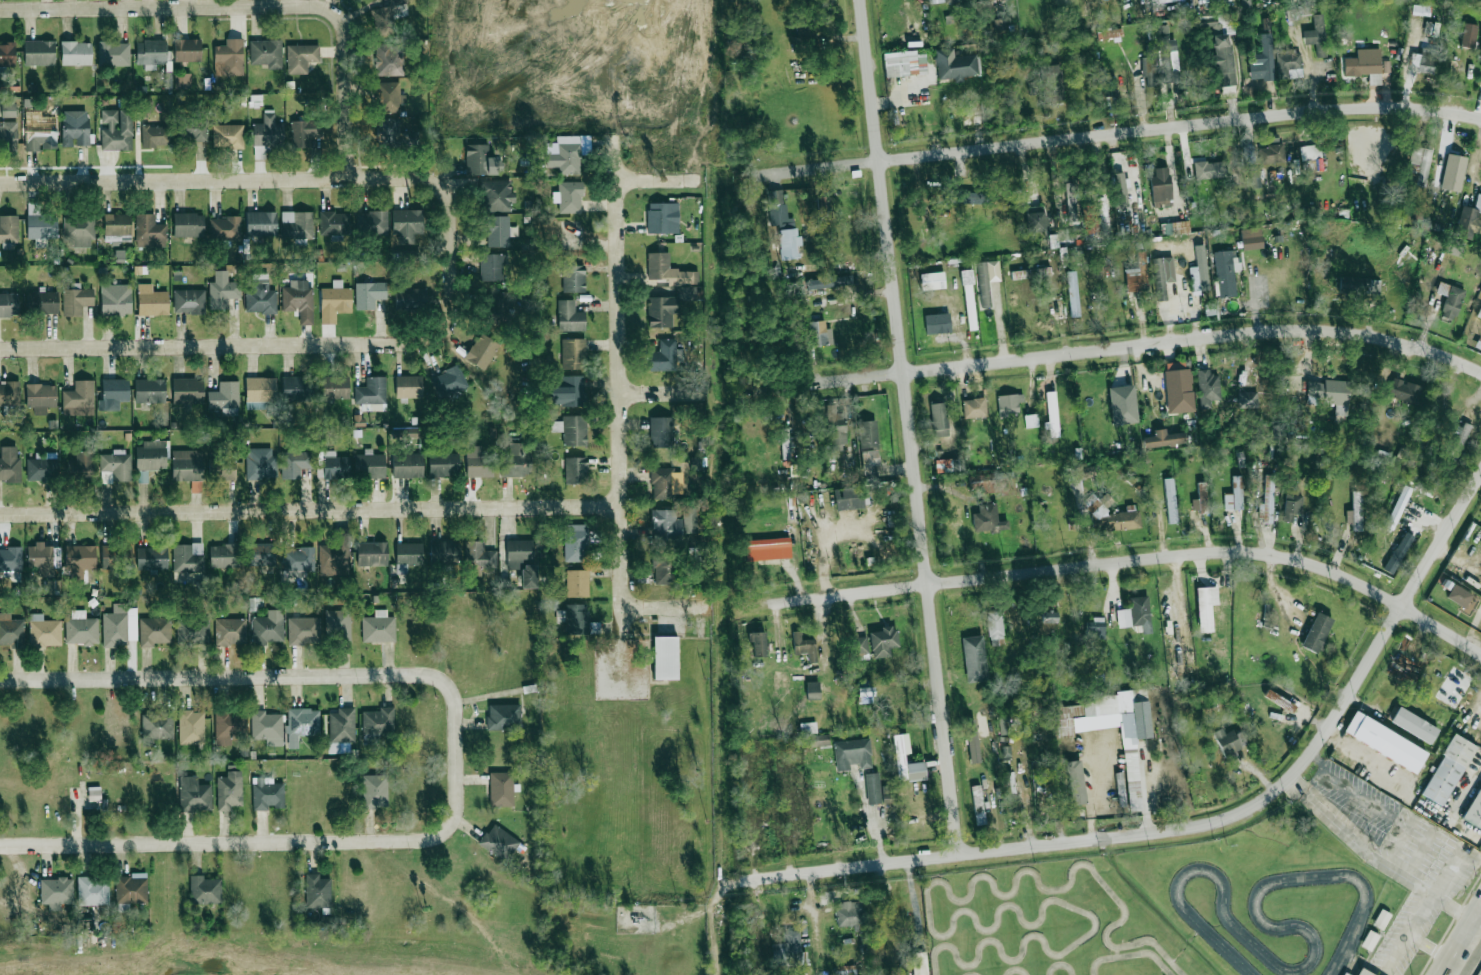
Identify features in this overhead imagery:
building: (1005, 0)
building: (1154, 0)
building: (1309, 0)
building: (400, 2)
building: (935, 2)
road: (251, 9)
building: (983, 9)
building: (1420, 10)
building: (904, 19)
building: (384, 21)
building: (1209, 25)
building: (1161, 30)
building: (1109, 33)
building: (1316, 35)
building: (1469, 36)
building: (187, 50)
building: (39, 53)
building: (76, 53)
building: (113, 53)
building: (151, 53)
building: (266, 53)
building: (1480, 53)
building: (7, 54)
building: (229, 58)
building: (301, 58)
building: (1168, 59)
building: (1480, 59)
building: (389, 60)
building: (1222, 61)
building: (1425, 61)
building: (1262, 62)
building: (1287, 64)
building: (1151, 65)
building: (901, 66)
building: (1366, 66)
building: (956, 68)
building: (186, 78)
building: (168, 80)
building: (1051, 83)
building: (1108, 87)
building: (389, 97)
building: (75, 128)
building: (195, 129)
building: (116, 130)
building: (388, 130)
building: (267, 131)
building: (8, 132)
building: (303, 132)
road: (1116, 133)
building: (154, 136)
building: (228, 136)
building: (40, 137)
building: (1310, 152)
building: (568, 153)
building: (1250, 156)
building: (1272, 156)
building: (477, 158)
building: (1418, 166)
building: (1210, 171)
building: (1254, 175)
road: (290, 177)
road: (659, 179)
building: (1449, 179)
building: (1120, 190)
building: (1160, 190)
building: (496, 196)
building: (570, 197)
building: (970, 197)
building: (1071, 202)
building: (821, 205)
building: (776, 207)
building: (1103, 216)
building: (658, 218)
building: (1090, 218)
building: (1467, 219)
building: (334, 223)
building: (371, 223)
building: (188, 224)
building: (261, 224)
building: (1035, 224)
building: (117, 225)
building: (297, 225)
building: (407, 225)
building: (225, 228)
building: (9, 229)
building: (747, 230)
building: (78, 231)
building: (149, 231)
building: (499, 231)
building: (1057, 238)
building: (1251, 239)
building: (790, 243)
building: (492, 267)
building: (666, 271)
building: (1199, 272)
building: (1030, 273)
building: (1226, 273)
building: (1162, 276)
building: (573, 278)
building: (1141, 278)
building: (930, 281)
building: (983, 284)
building: (813, 285)
building: (1361, 287)
building: (222, 290)
building: (372, 290)
building: (685, 293)
building: (1073, 293)
building: (411, 299)
building: (1450, 299)
building: (116, 300)
building: (299, 300)
building: (76, 301)
building: (152, 301)
building: (189, 301)
building: (260, 301)
building: (43, 302)
building: (335, 302)
building: (9, 305)
building: (809, 305)
building: (497, 306)
building: (969, 307)
building: (1209, 309)
building: (659, 312)
building: (1478, 314)
building: (570, 317)
building: (936, 324)
building: (835, 327)
building: (819, 334)
road: (1123, 345)
road: (228, 347)
building: (482, 351)
building: (573, 353)
building: (664, 357)
building: (1181, 379)
building: (450, 381)
building: (335, 387)
building: (409, 387)
building: (1208, 388)
building: (298, 389)
building: (150, 390)
road: (662, 390)
building: (187, 391)
building: (259, 391)
building: (371, 391)
building: (568, 391)
building: (1404, 391)
building: (1331, 393)
building: (9, 394)
building: (113, 394)
road: (621, 396)
building: (41, 397)
building: (225, 398)
building: (79, 399)
building: (1248, 400)
building: (1127, 405)
building: (974, 408)
building: (1010, 409)
building: (1052, 415)
building: (938, 417)
building: (1031, 421)
road: (907, 428)
building: (572, 429)
building: (835, 430)
building: (410, 432)
building: (661, 433)
building: (868, 434)
building: (1163, 439)
building: (1459, 441)
building: (784, 443)
building: (151, 456)
building: (1401, 456)
building: (1382, 457)
building: (479, 461)
building: (516, 461)
building: (849, 461)
building: (870, 462)
building: (261, 463)
building: (9, 464)
building: (294, 464)
building: (443, 464)
building: (117, 465)
building: (186, 465)
building: (370, 465)
building: (407, 465)
building: (945, 465)
building: (81, 467)
building: (42, 468)
building: (221, 468)
building: (575, 471)
building: (661, 483)
building: (992, 483)
building: (1235, 495)
building: (848, 498)
building: (1200, 498)
building: (1269, 499)
building: (1170, 500)
building: (1292, 503)
building: (1398, 507)
road: (311, 510)
building: (1356, 511)
building: (986, 518)
building: (1116, 522)
building: (666, 526)
road: (823, 539)
building: (576, 543)
building: (768, 544)
building: (1402, 547)
building: (443, 551)
building: (372, 553)
building: (409, 553)
building: (262, 554)
building: (116, 556)
building: (224, 556)
building: (188, 557)
building: (334, 557)
building: (41, 558)
building: (151, 558)
building: (478, 558)
building: (10, 559)
building: (298, 559)
building: (79, 560)
road: (1136, 560)
building: (522, 561)
building: (664, 568)
building: (577, 583)
building: (1461, 597)
road: (666, 607)
building: (1204, 610)
building: (1139, 611)
building: (1168, 614)
building: (575, 618)
building: (1050, 619)
building: (120, 625)
building: (338, 626)
building: (995, 626)
building: (378, 627)
building: (268, 628)
building: (1095, 628)
building: (81, 629)
building: (303, 630)
building: (11, 631)
building: (44, 631)
building: (154, 631)
building: (231, 631)
building: (193, 633)
building: (1315, 633)
building: (882, 642)
building: (758, 643)
building: (804, 647)
building: (859, 647)
building: (666, 657)
building: (973, 658)
road: (302, 675)
building: (812, 690)
building: (866, 694)
building: (1279, 700)
building: (503, 717)
building: (303, 722)
building: (1003, 724)
building: (266, 725)
building: (342, 725)
building: (377, 725)
building: (1414, 725)
building: (156, 726)
building: (191, 727)
building: (228, 727)
building: (808, 727)
building: (117, 728)
building: (1111, 729)
building: (818, 740)
building: (972, 741)
building: (1385, 742)
building: (1227, 743)
building: (1006, 751)
building: (853, 755)
building: (903, 761)
building: (1448, 770)
road: (1320, 775)
road: (1296, 776)
building: (1075, 782)
building: (873, 788)
road: (1404, 788)
road: (1462, 788)
building: (501, 789)
building: (1120, 789)
building: (229, 790)
building: (375, 791)
building: (1009, 792)
road: (1089, 793)
building: (94, 794)
building: (193, 794)
building: (267, 795)
road: (1363, 803)
building: (978, 805)
building: (1474, 810)
road: (1400, 841)
building: (499, 842)
road: (223, 843)
road: (1419, 852)
road: (1376, 859)
road: (848, 868)
road: (1449, 872)
building: (131, 888)
building: (204, 890)
building: (92, 891)
building: (56, 892)
building: (317, 892)
building: (898, 916)
building: (847, 919)
building: (1381, 919)
parking lot: (1405, 932)
road: (1408, 932)
raceway: (943, 936)
road: (1464, 937)
building: (1369, 940)
road: (1430, 947)
road: (1465, 948)
building: (786, 950)
raceway: (1130, 954)
raceway: (1310, 960)
building: (919, 963)
road: (1366, 963)
raceway: (1060, 964)
road: (1353, 967)
building: (845, 970)
raceway: (1017, 970)
road: (1446, 971)
building: (1361, 972)
building: (1345, 974)

